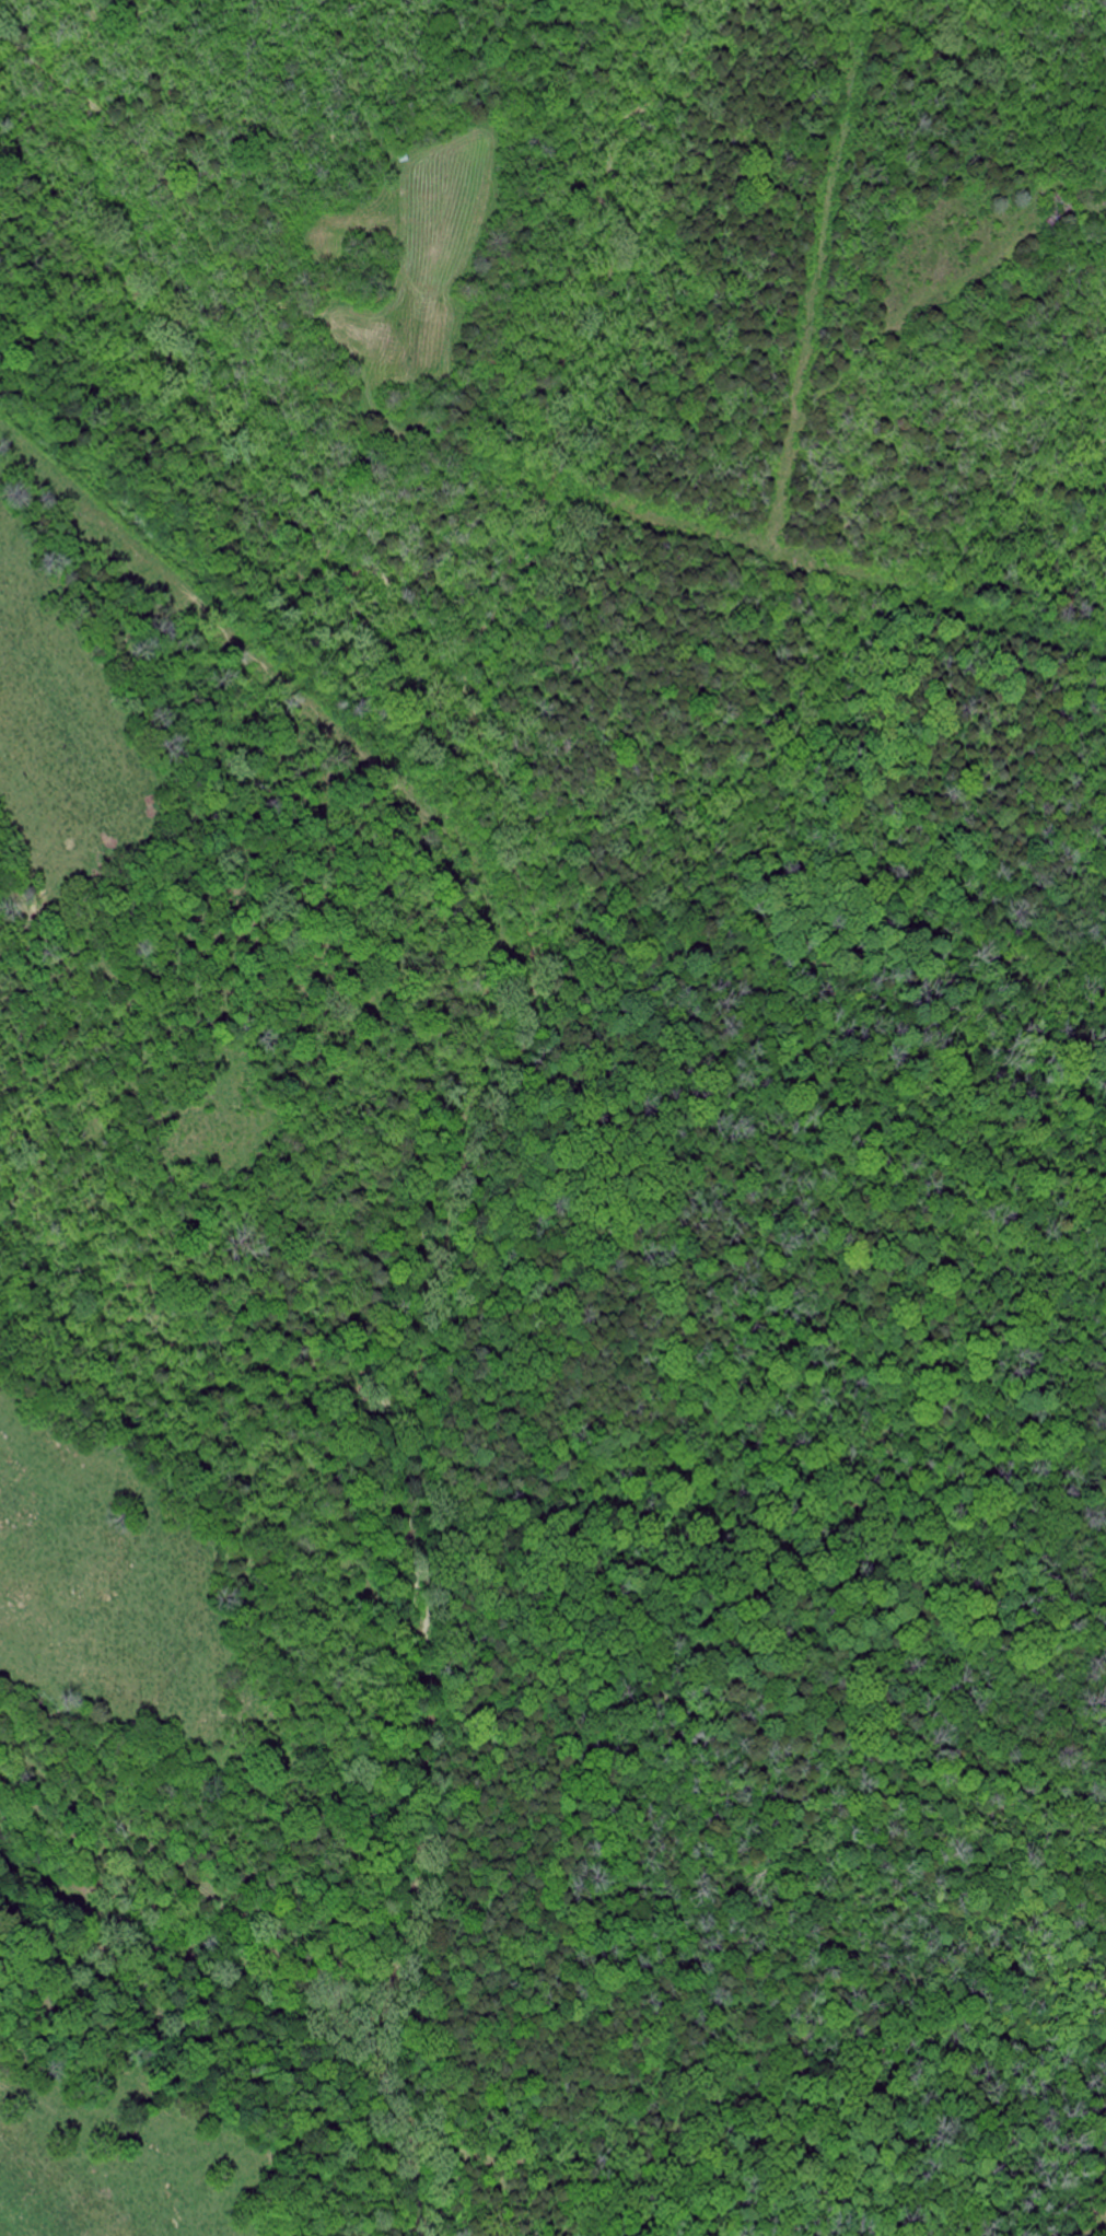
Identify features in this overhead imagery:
road: (184, 226)

